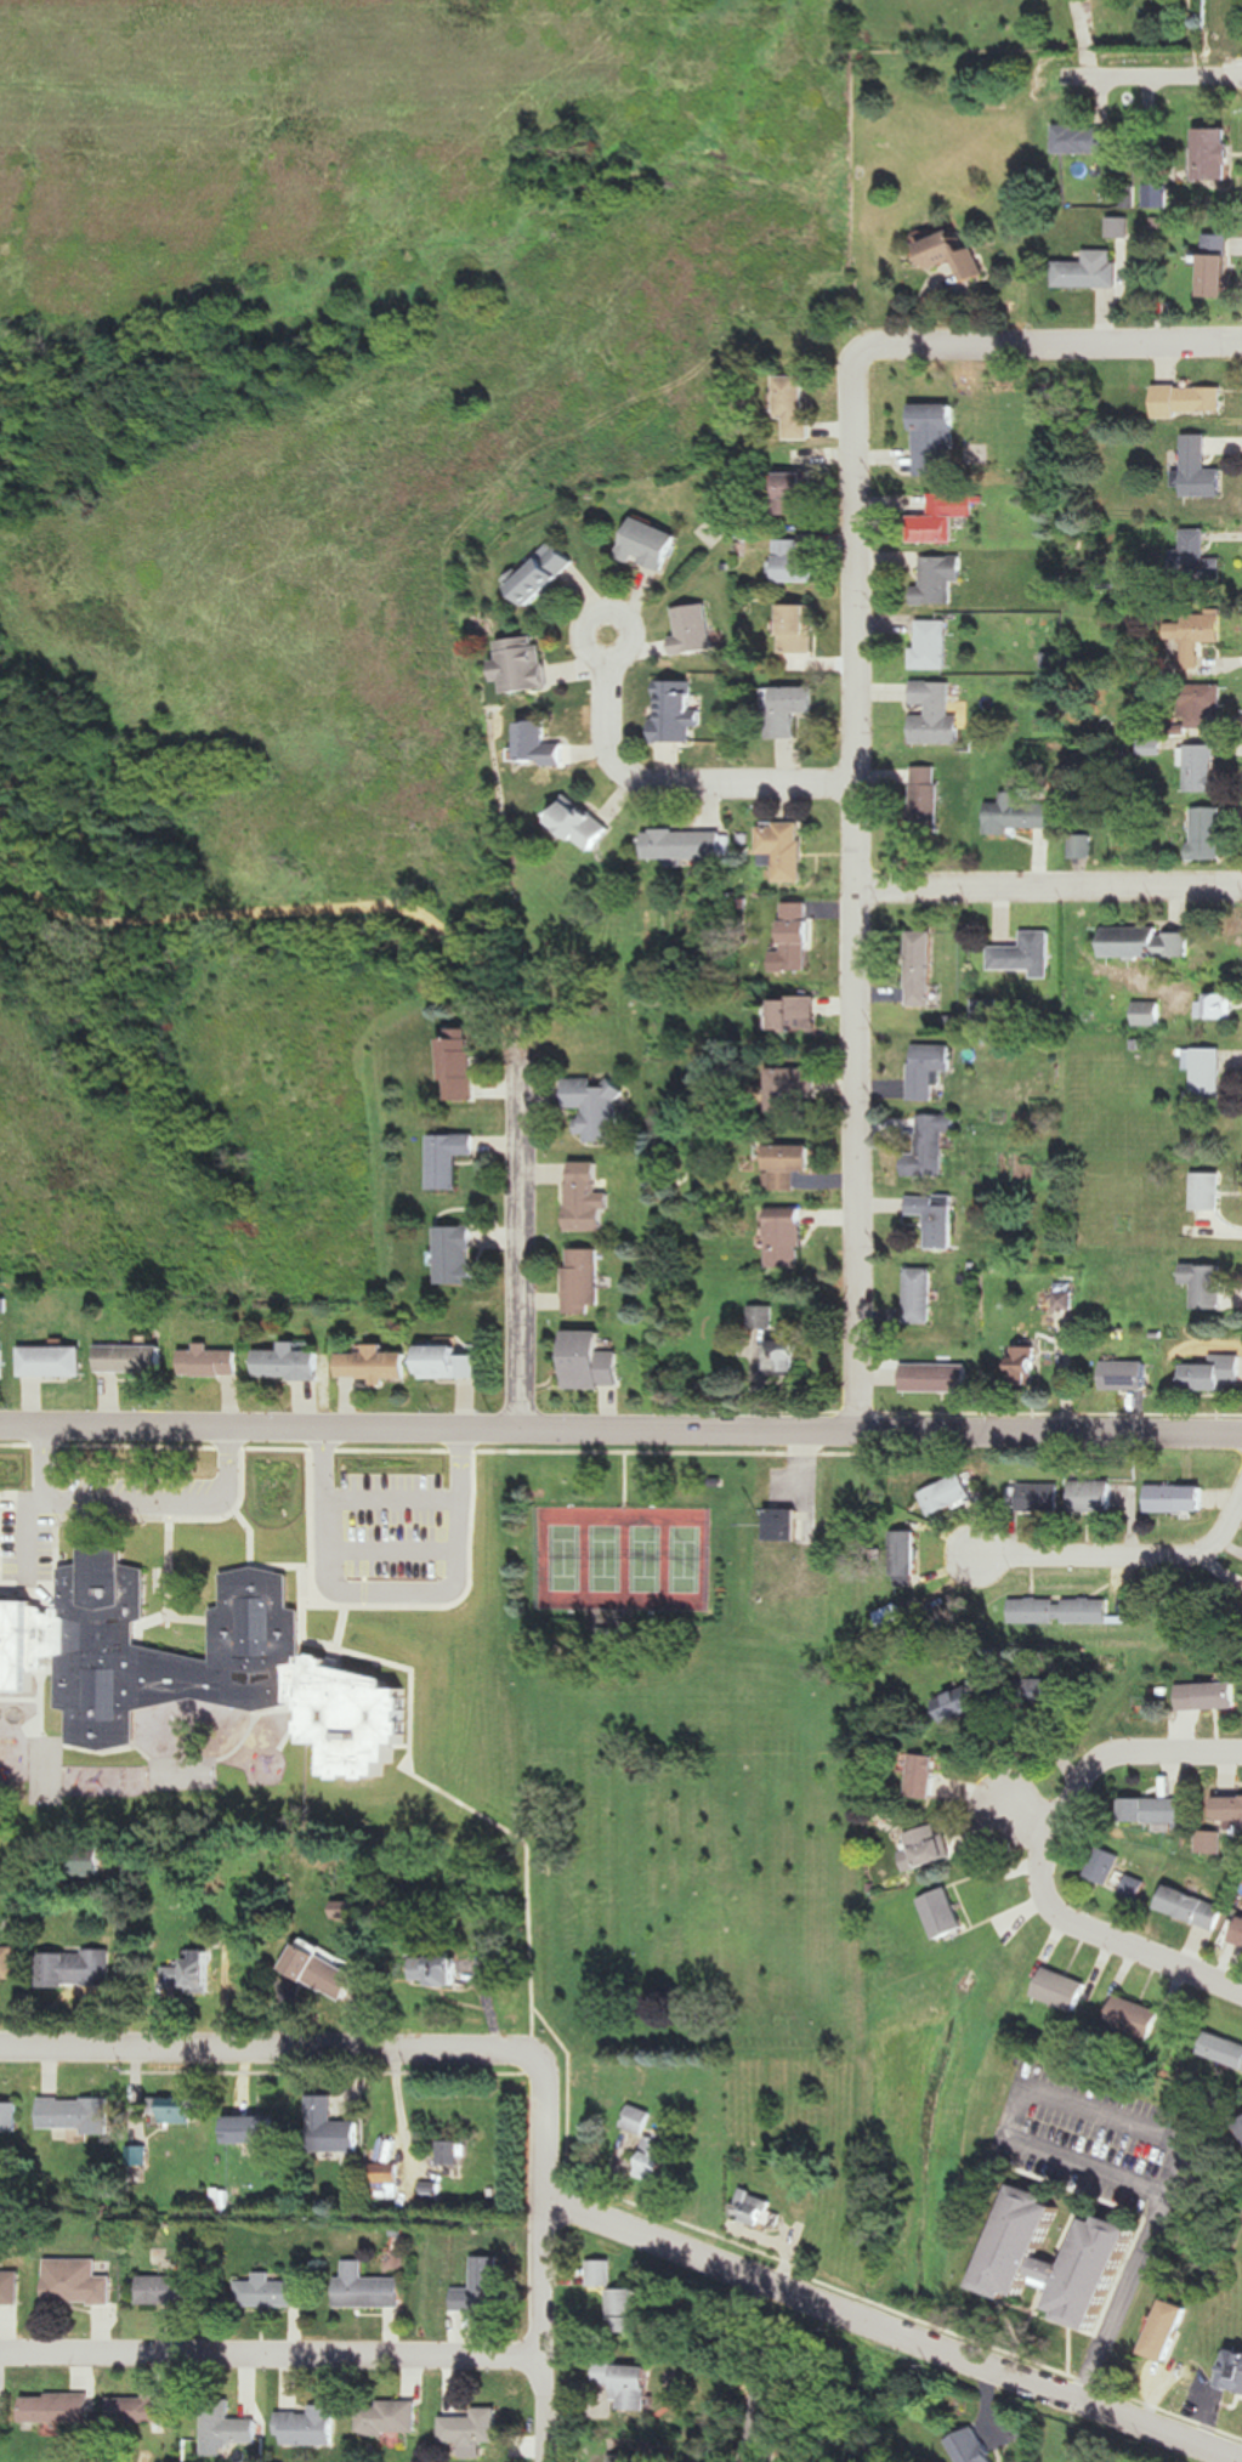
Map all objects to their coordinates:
road: (1142, 84)
building: (1083, 140)
building: (1214, 155)
building: (1155, 197)
building: (1119, 228)
building: (958, 254)
building: (1219, 266)
building: (1090, 271)
road: (1053, 342)
building: (1189, 398)
building: (799, 404)
building: (934, 435)
building: (1200, 469)
building: (798, 492)
building: (942, 516)
building: (713, 532)
building: (651, 545)
building: (1198, 557)
building: (795, 562)
building: (548, 574)
building: (938, 579)
building: (799, 628)
building: (694, 630)
building: (1200, 636)
building: (931, 645)
building: (526, 663)
building: (1200, 703)
building: (790, 708)
building: (677, 710)
building: (935, 713)
building: (543, 744)
building: (1203, 768)
road: (670, 779)
building: (926, 799)
building: (1016, 815)
building: (583, 823)
building: (1207, 833)
building: (687, 844)
building: (786, 850)
road: (856, 885)
road: (1049, 885)
road: (209, 927)
building: (799, 936)
building: (1147, 942)
building: (1027, 954)
building: (923, 969)
building: (1220, 1005)
building: (800, 1012)
building: (1150, 1014)
building: (464, 1063)
building: (930, 1070)
building: (1208, 1073)
building: (792, 1088)
building: (596, 1107)
building: (931, 1145)
building: (450, 1158)
building: (787, 1164)
road: (515, 1181)
building: (1208, 1190)
building: (588, 1195)
building: (936, 1218)
building: (784, 1237)
building: (459, 1254)
building: (585, 1280)
building: (1208, 1284)
building: (920, 1295)
building: (789, 1356)
building: (135, 1360)
building: (56, 1361)
building: (450, 1361)
building: (594, 1361)
building: (4, 1362)
building: (217, 1362)
building: (297, 1363)
building: (376, 1363)
building: (1031, 1366)
building: (1213, 1373)
building: (1129, 1375)
building: (937, 1377)
road: (430, 1428)
road: (1051, 1430)
road: (448, 1448)
road: (625, 1479)
building: (951, 1494)
building: (1093, 1496)
building: (1034, 1497)
building: (1176, 1498)
road: (177, 1507)
building: (786, 1525)
road: (1119, 1556)
park: (563, 1558)
building: (908, 1558)
park: (603, 1559)
park: (643, 1559)
park: (686, 1560)
road: (52, 1565)
building: (1037, 1611)
building: (1089, 1611)
building: (891, 1617)
building: (259, 1636)
building: (1036, 1692)
building: (1209, 1696)
building: (959, 1706)
park: (618, 1718)
road: (1138, 1759)
building: (924, 1776)
building: (1230, 1809)
building: (1156, 1810)
road: (1043, 1821)
road: (501, 1826)
building: (1212, 1843)
building: (930, 1845)
building: (89, 1859)
building: (1107, 1865)
building: (1136, 1884)
building: (1191, 1905)
building: (946, 1913)
road: (1117, 1936)
building: (1240, 1936)
building: (10, 1963)
building: (81, 1969)
building: (439, 1970)
building: (195, 1973)
building: (325, 1973)
building: (1067, 1989)
building: (1138, 2016)
road: (347, 2048)
building: (1224, 2050)
road: (573, 2086)
building: (182, 2109)
building: (80, 2114)
building: (12, 2116)
building: (640, 2120)
road: (1129, 2125)
building: (1240, 2126)
building: (334, 2128)
building: (256, 2131)
building: (454, 2152)
building: (658, 2162)
building: (390, 2180)
building: (756, 2208)
building: (1061, 2258)
building: (606, 2274)
building: (80, 2282)
building: (12, 2286)
building: (369, 2288)
building: (176, 2290)
building: (482, 2290)
building: (273, 2292)
road: (889, 2307)
building: (630, 2309)
road: (891, 2330)
building: (1169, 2331)
road: (543, 2332)
road: (271, 2359)
building: (1230, 2371)
building: (630, 2384)
building: (62, 2409)
building: (141, 2410)
building: (391, 2418)
building: (229, 2424)
building: (311, 2427)
building: (473, 2429)
building: (975, 2447)

